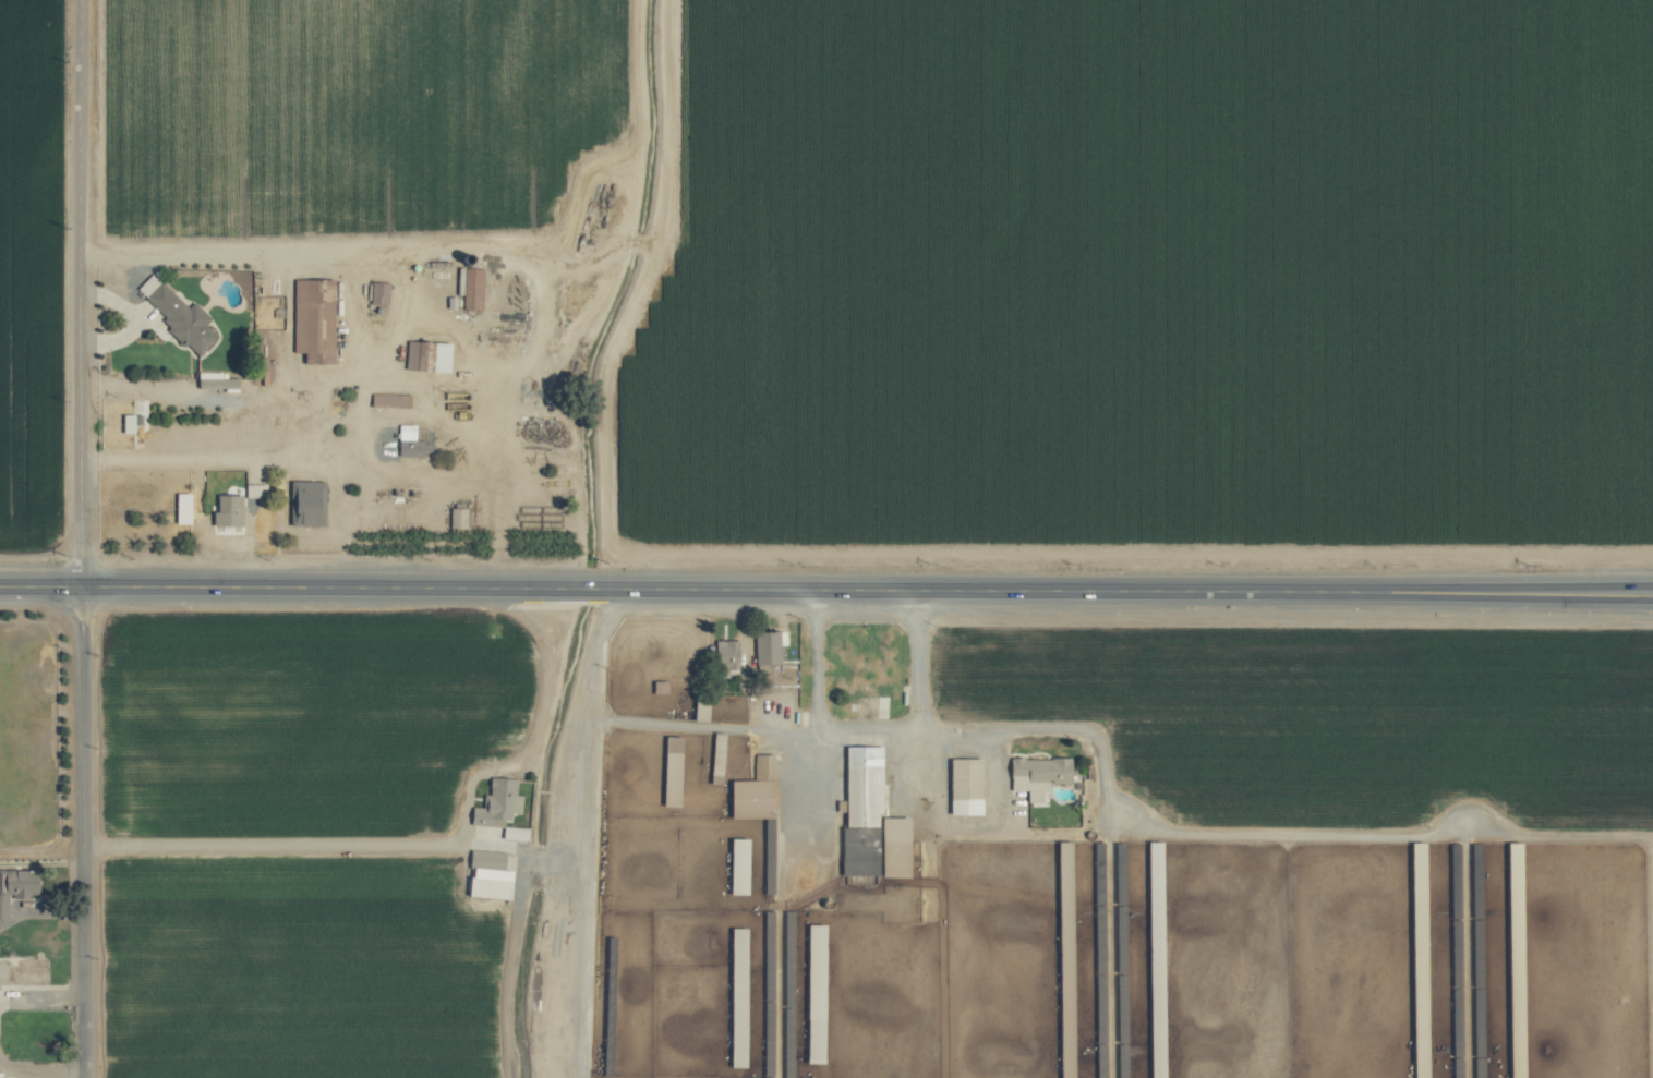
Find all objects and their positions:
road: (462, 247)
building: (470, 289)
building: (376, 293)
building: (173, 314)
road: (129, 316)
building: (310, 320)
building: (423, 356)
building: (123, 424)
building: (406, 441)
building: (252, 490)
building: (303, 504)
building: (179, 508)
building: (224, 511)
road: (82, 538)
crop: (826, 538)
road: (290, 588)
road: (599, 588)
road: (1134, 590)
building: (764, 646)
building: (725, 652)
road: (602, 722)
road: (1057, 728)
road: (870, 730)
building: (713, 752)
building: (761, 765)
building: (666, 771)
building: (1035, 772)
building: (859, 784)
building: (961, 785)
building: (496, 807)
road: (1175, 829)
road: (420, 841)
building: (892, 847)
building: (488, 860)
building: (734, 865)
building: (15, 885)
building: (483, 886)
building: (23, 971)
building: (733, 996)

